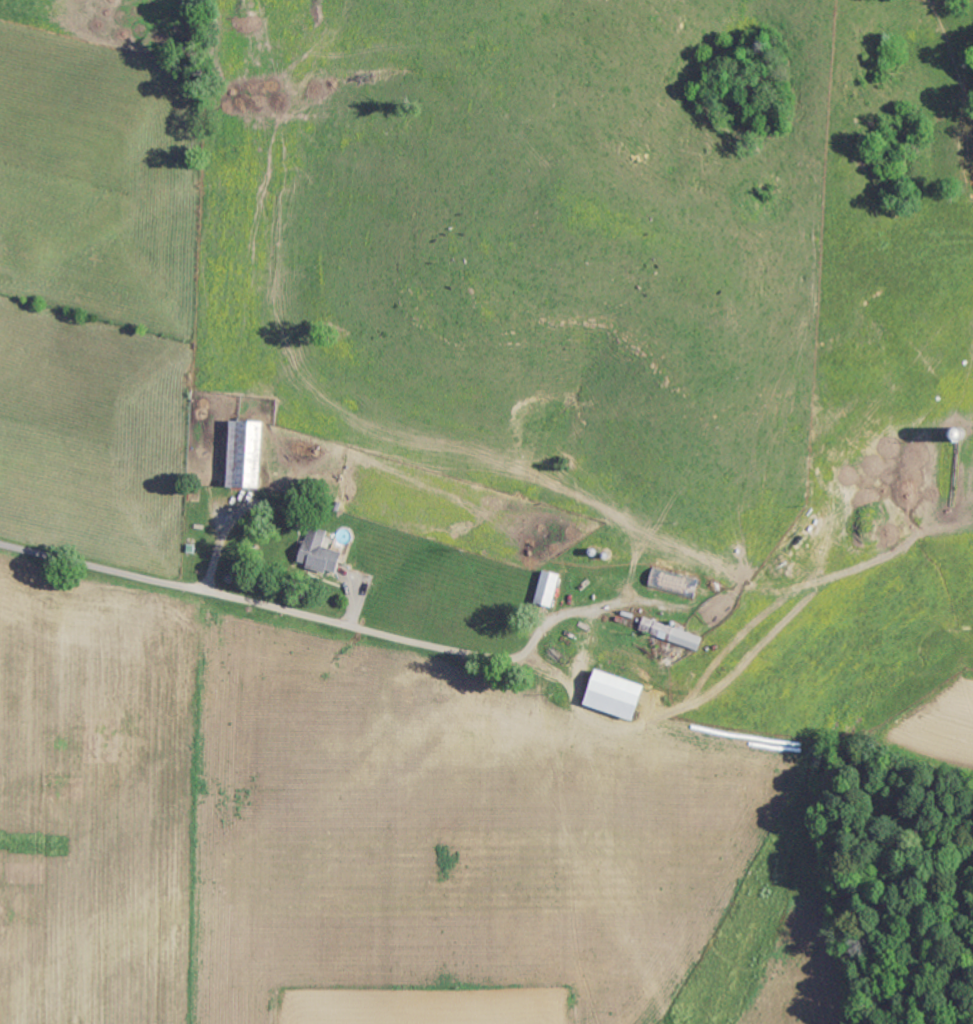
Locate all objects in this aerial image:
building: (239, 453)
building: (316, 551)
building: (544, 588)
road: (269, 605)
building: (668, 632)
building: (608, 694)

